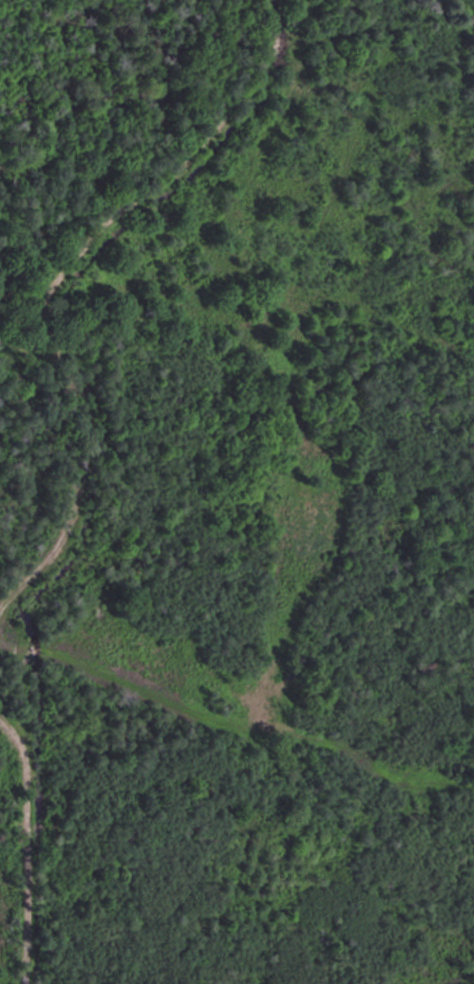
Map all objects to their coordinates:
road: (59, 285)

